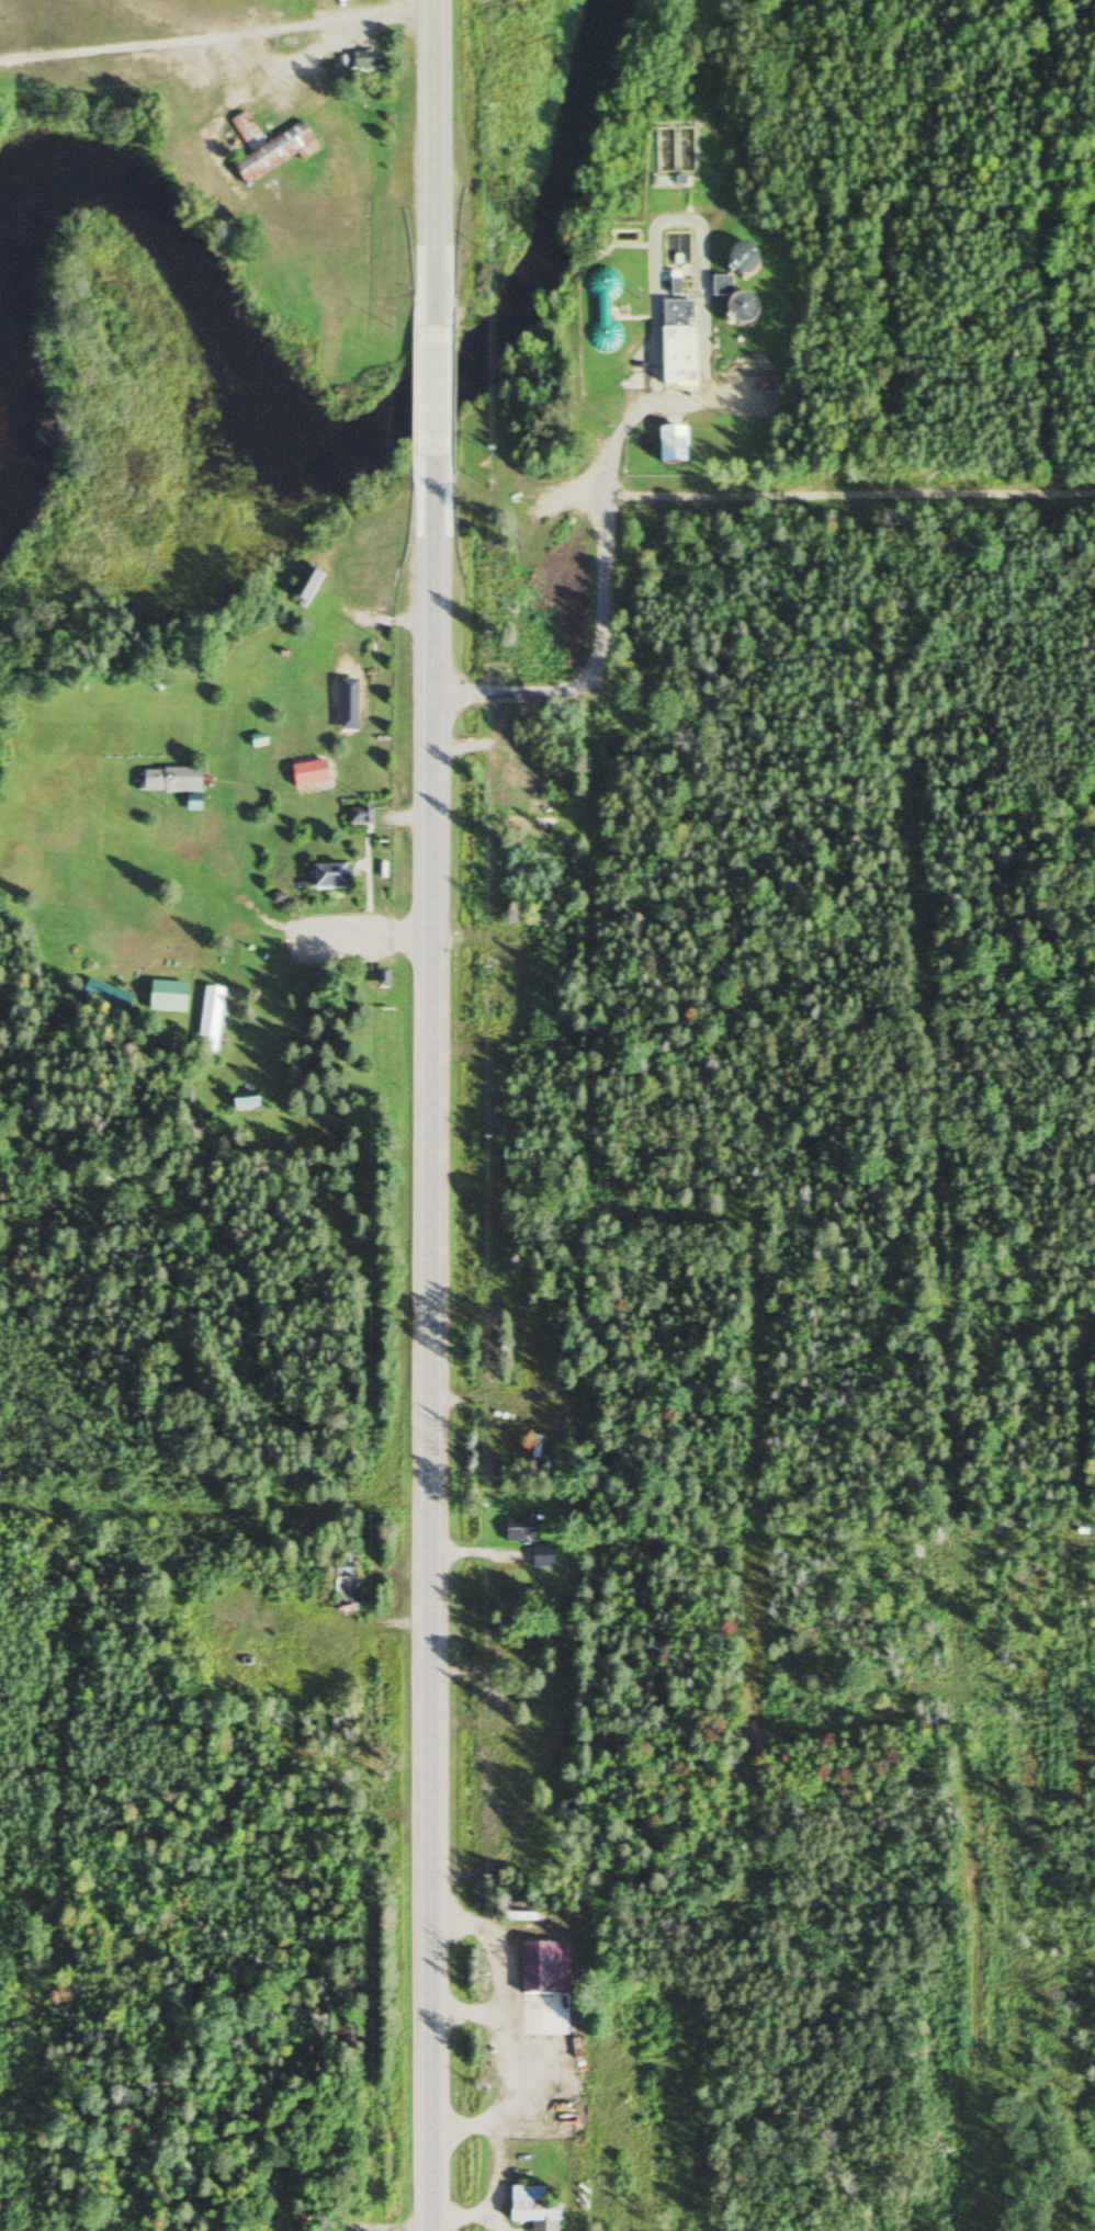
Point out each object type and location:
road: (213, 33)
building: (363, 61)
building: (267, 148)
road: (434, 163)
building: (668, 175)
river: (562, 194)
building: (741, 260)
building: (720, 286)
building: (738, 308)
building: (602, 313)
building: (675, 316)
river: (225, 351)
building: (676, 359)
road: (432, 393)
road: (641, 406)
building: (670, 446)
building: (305, 587)
building: (307, 774)
building: (169, 781)
building: (358, 817)
building: (513, 826)
building: (328, 879)
building: (104, 998)
building: (166, 998)
building: (517, 1000)
building: (207, 1020)
building: (242, 1102)
building: (195, 1125)
road: (427, 1344)
building: (519, 1529)
building: (340, 1582)
building: (576, 1973)
building: (534, 1977)
building: (531, 2208)

